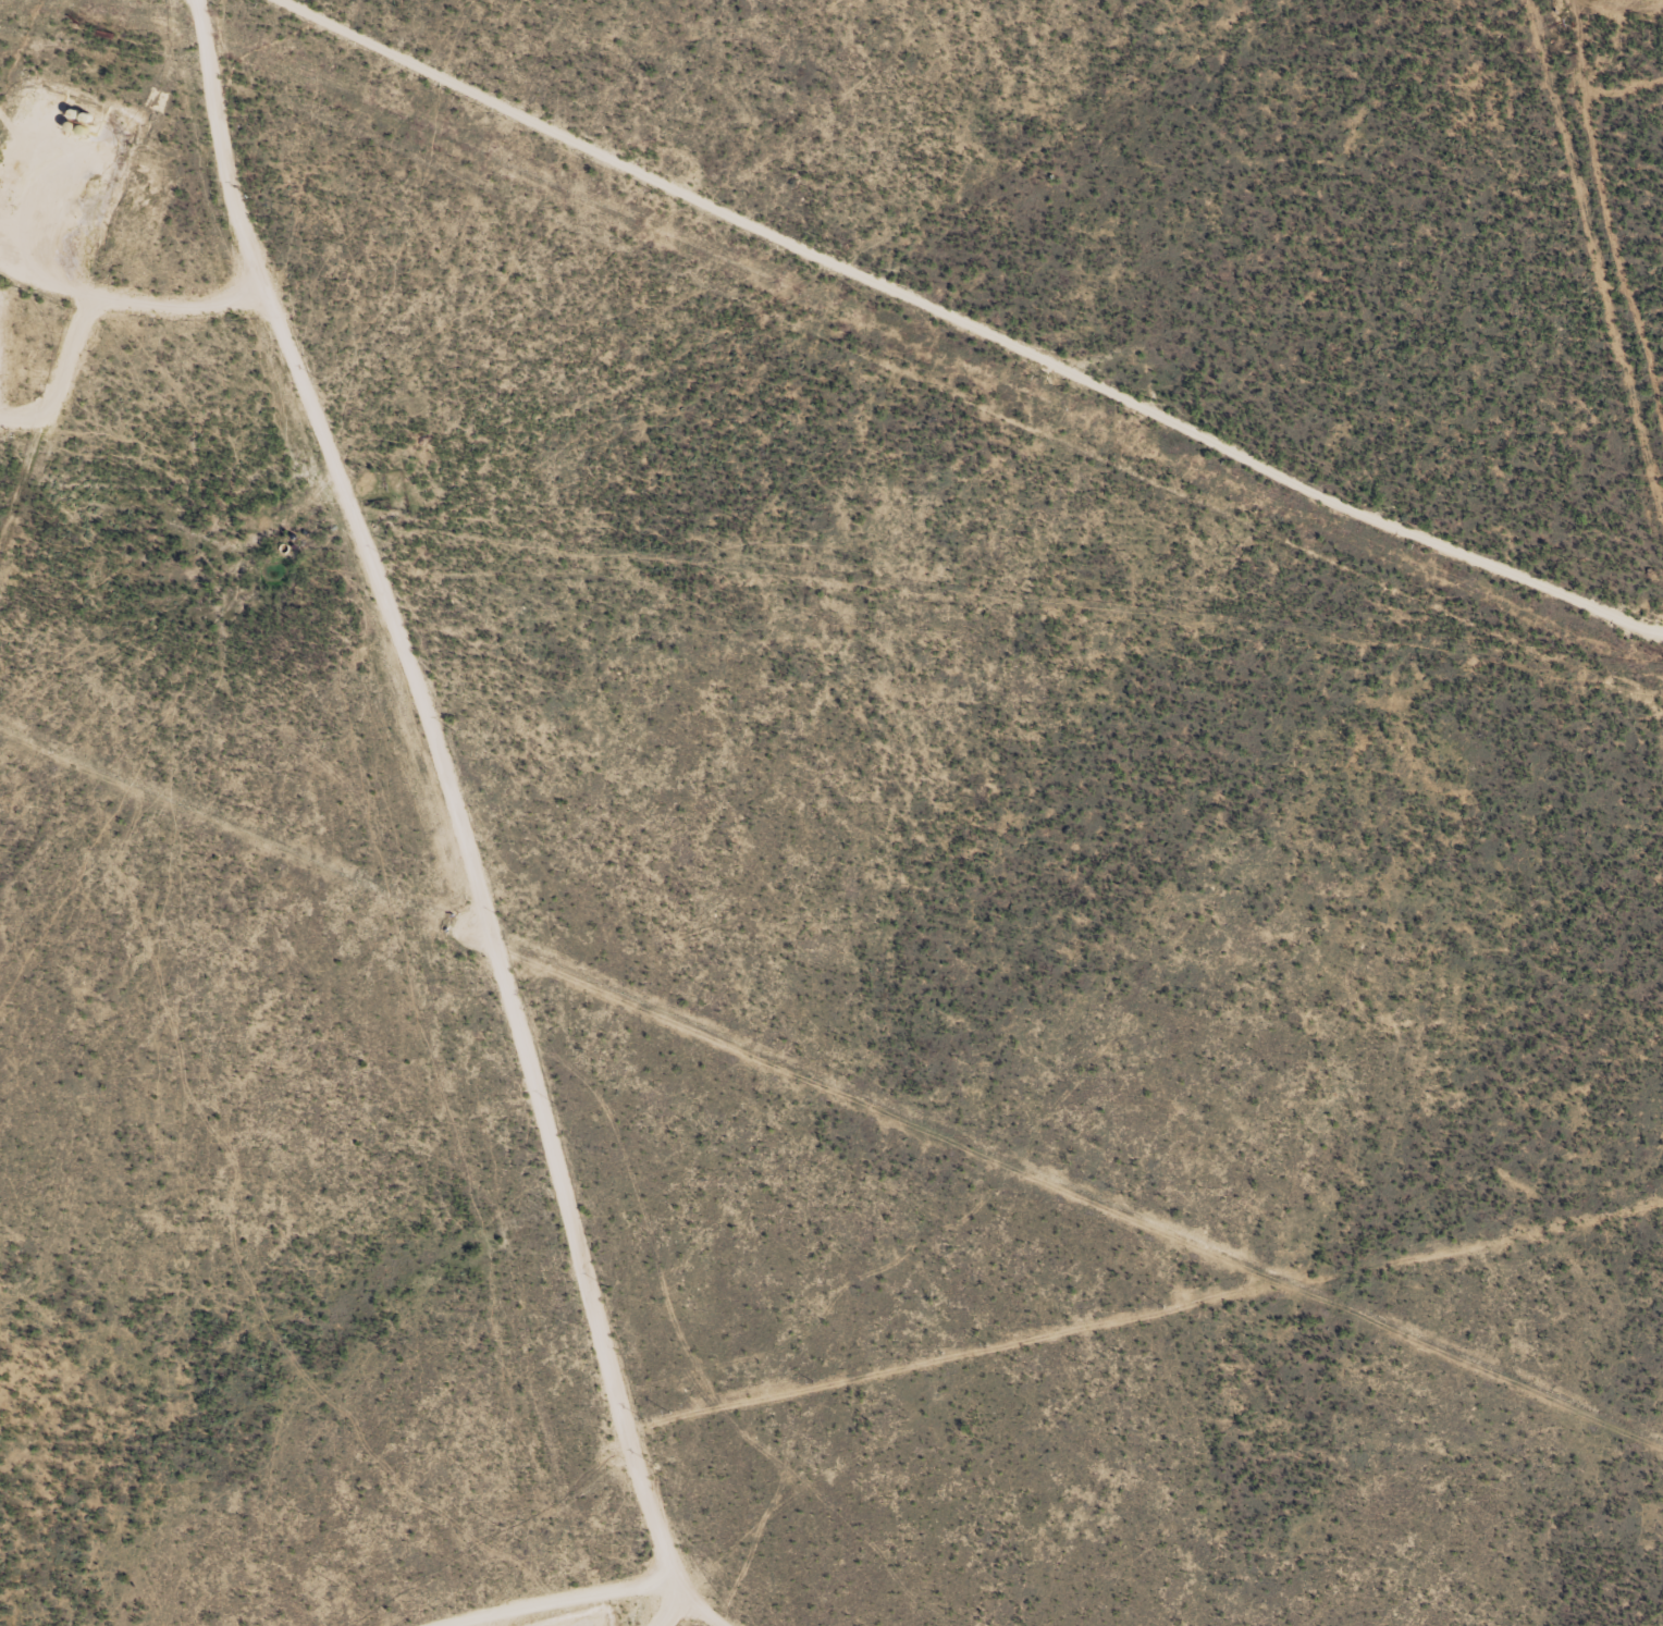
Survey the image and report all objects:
road: (242, 246)

